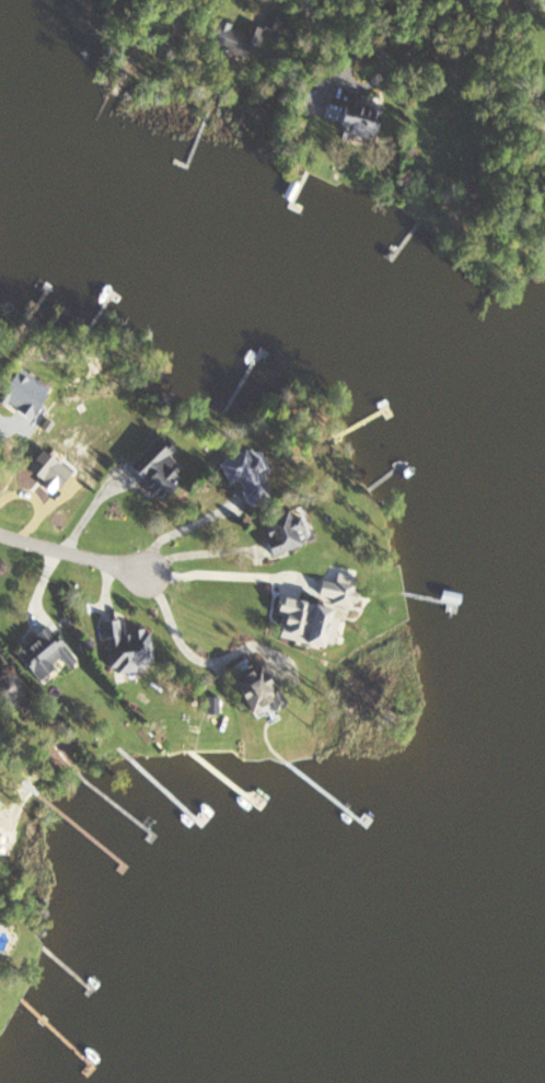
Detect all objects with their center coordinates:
building: (229, 37)
building: (355, 115)
building: (153, 469)
building: (242, 475)
road: (177, 526)
building: (280, 532)
road: (195, 548)
road: (72, 554)
road: (213, 569)
building: (299, 621)
road: (181, 641)
building: (128, 648)
building: (39, 652)
building: (254, 691)

